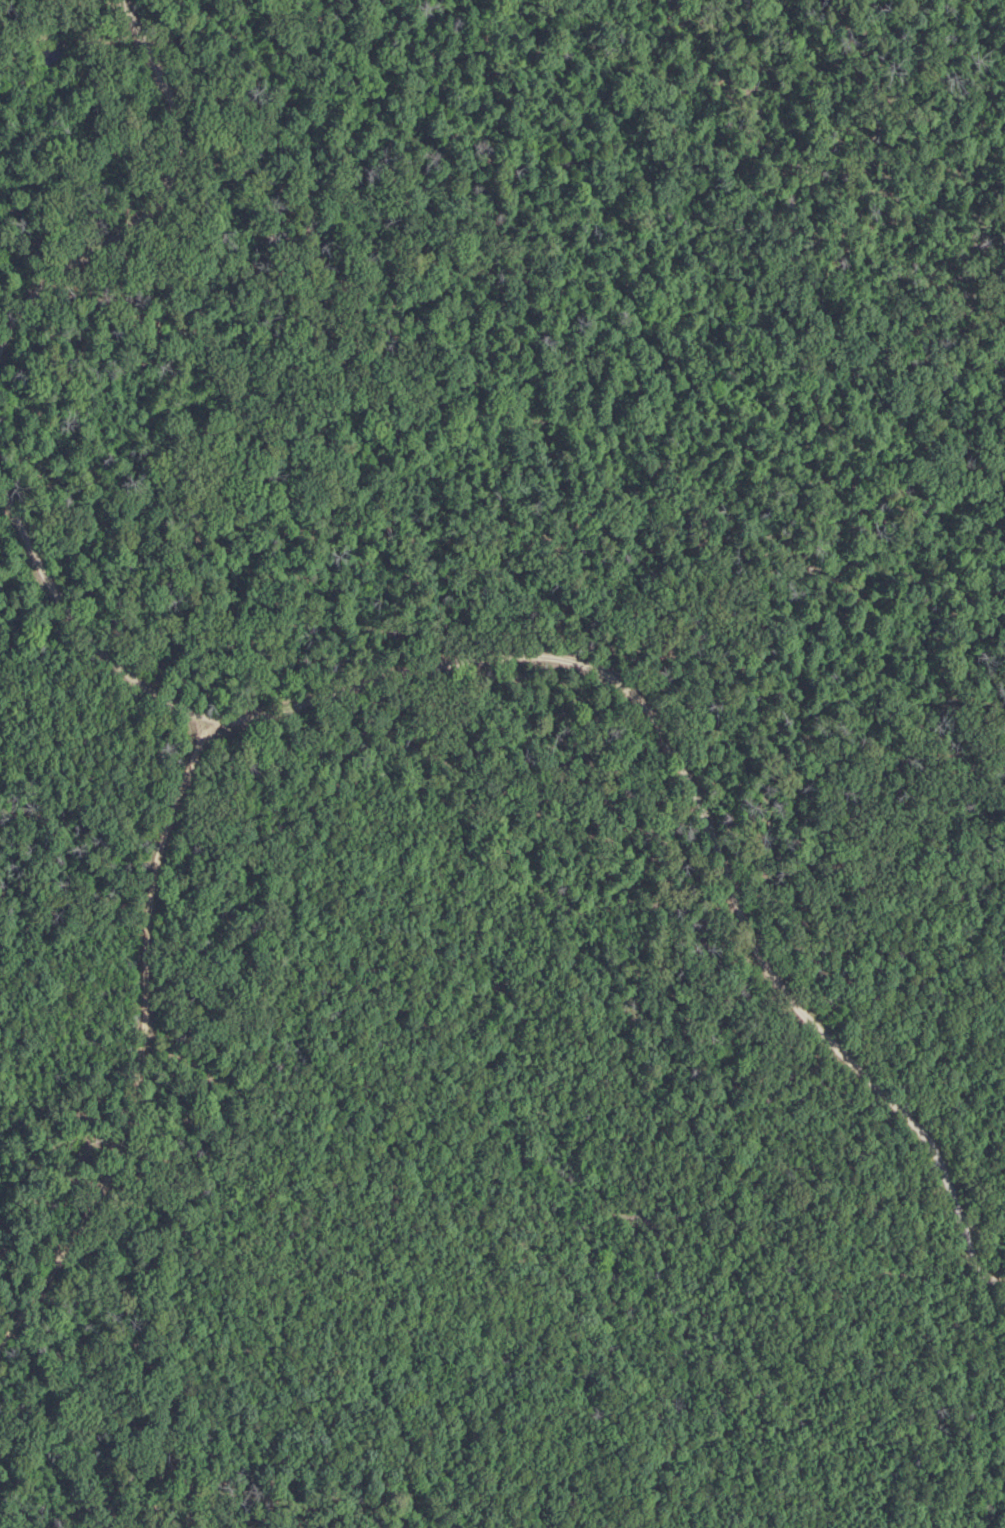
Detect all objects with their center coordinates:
road: (154, 204)
road: (601, 671)
road: (141, 1043)

